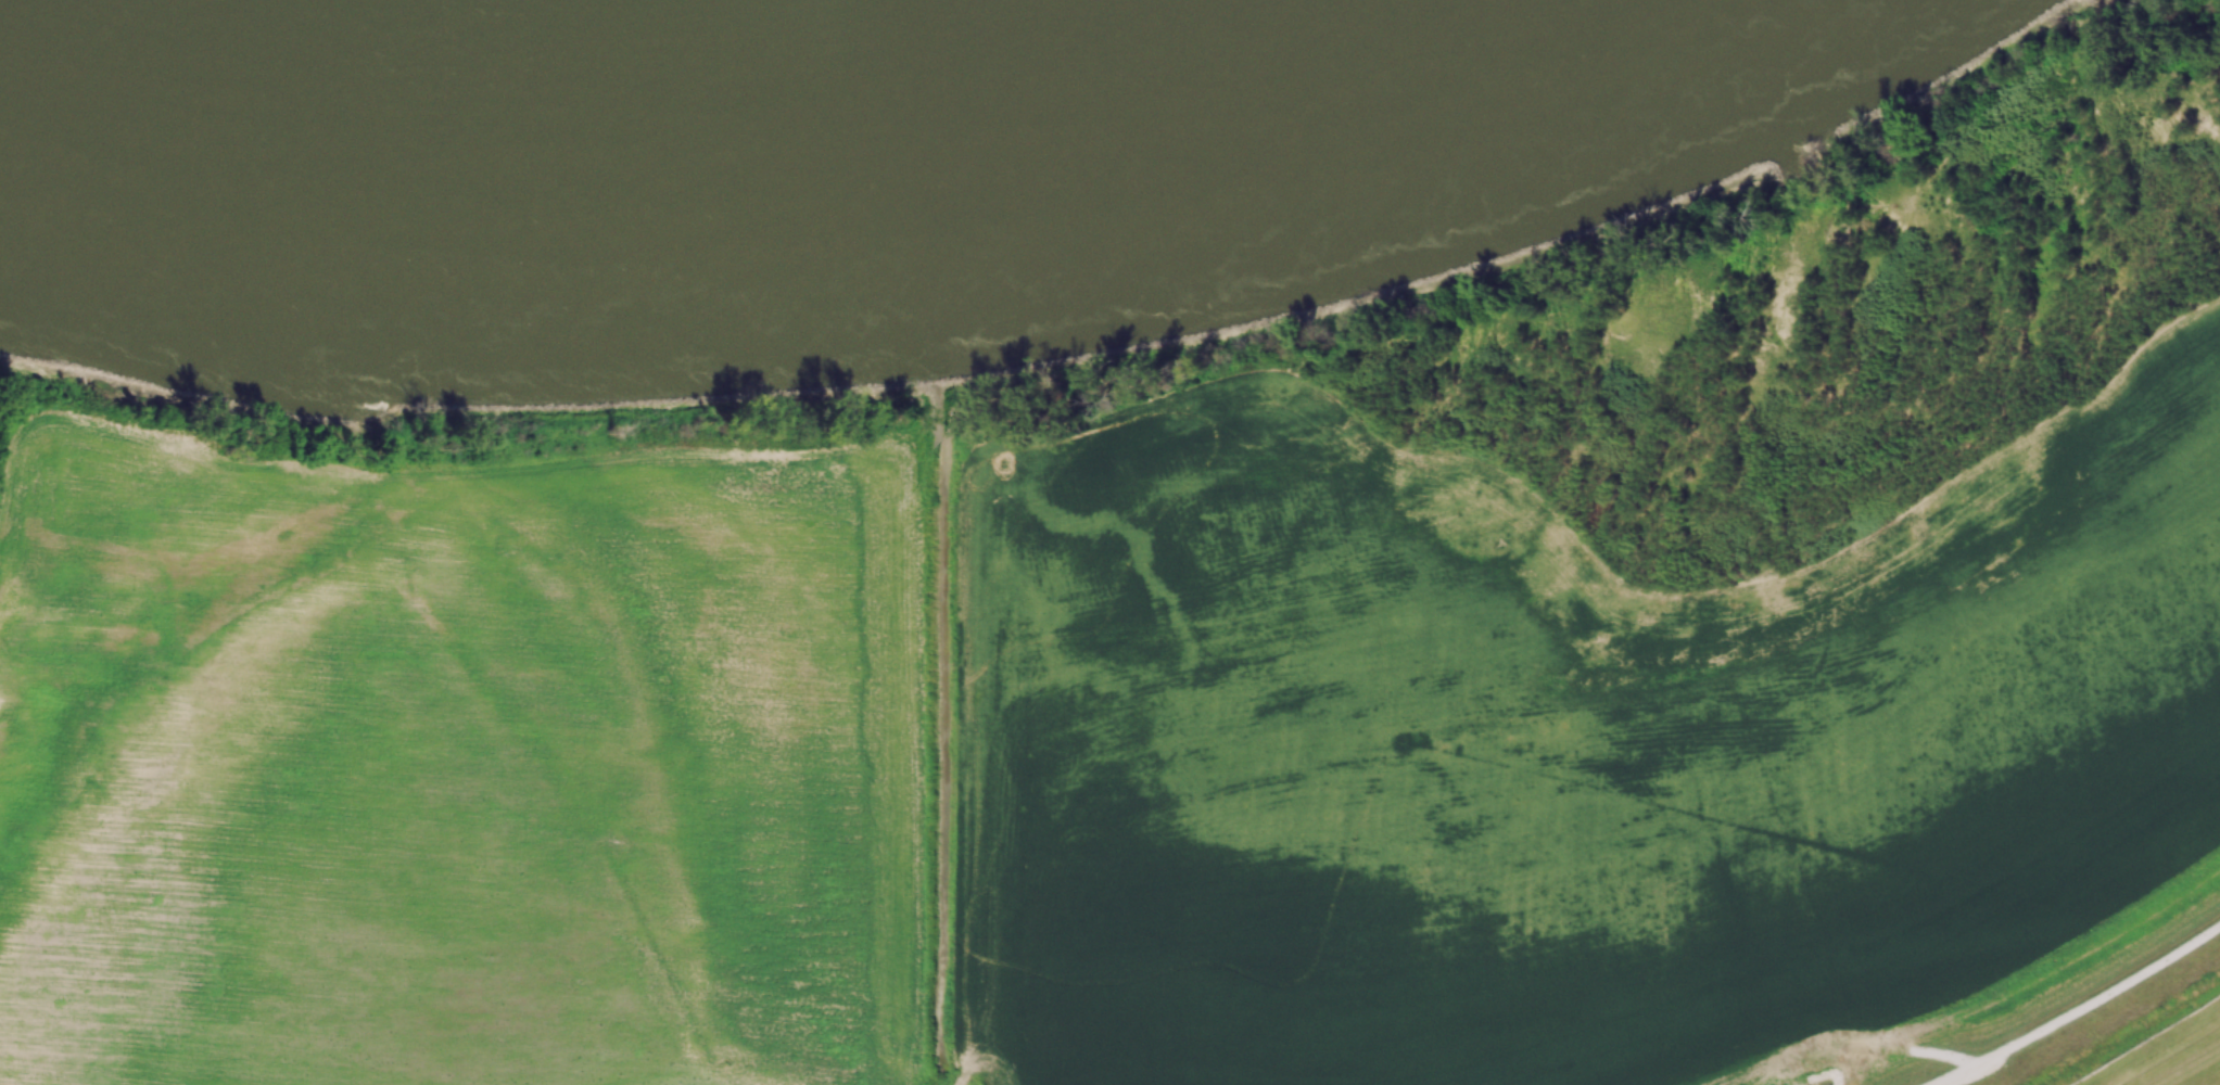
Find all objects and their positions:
river: (835, 159)
road: (2055, 998)

